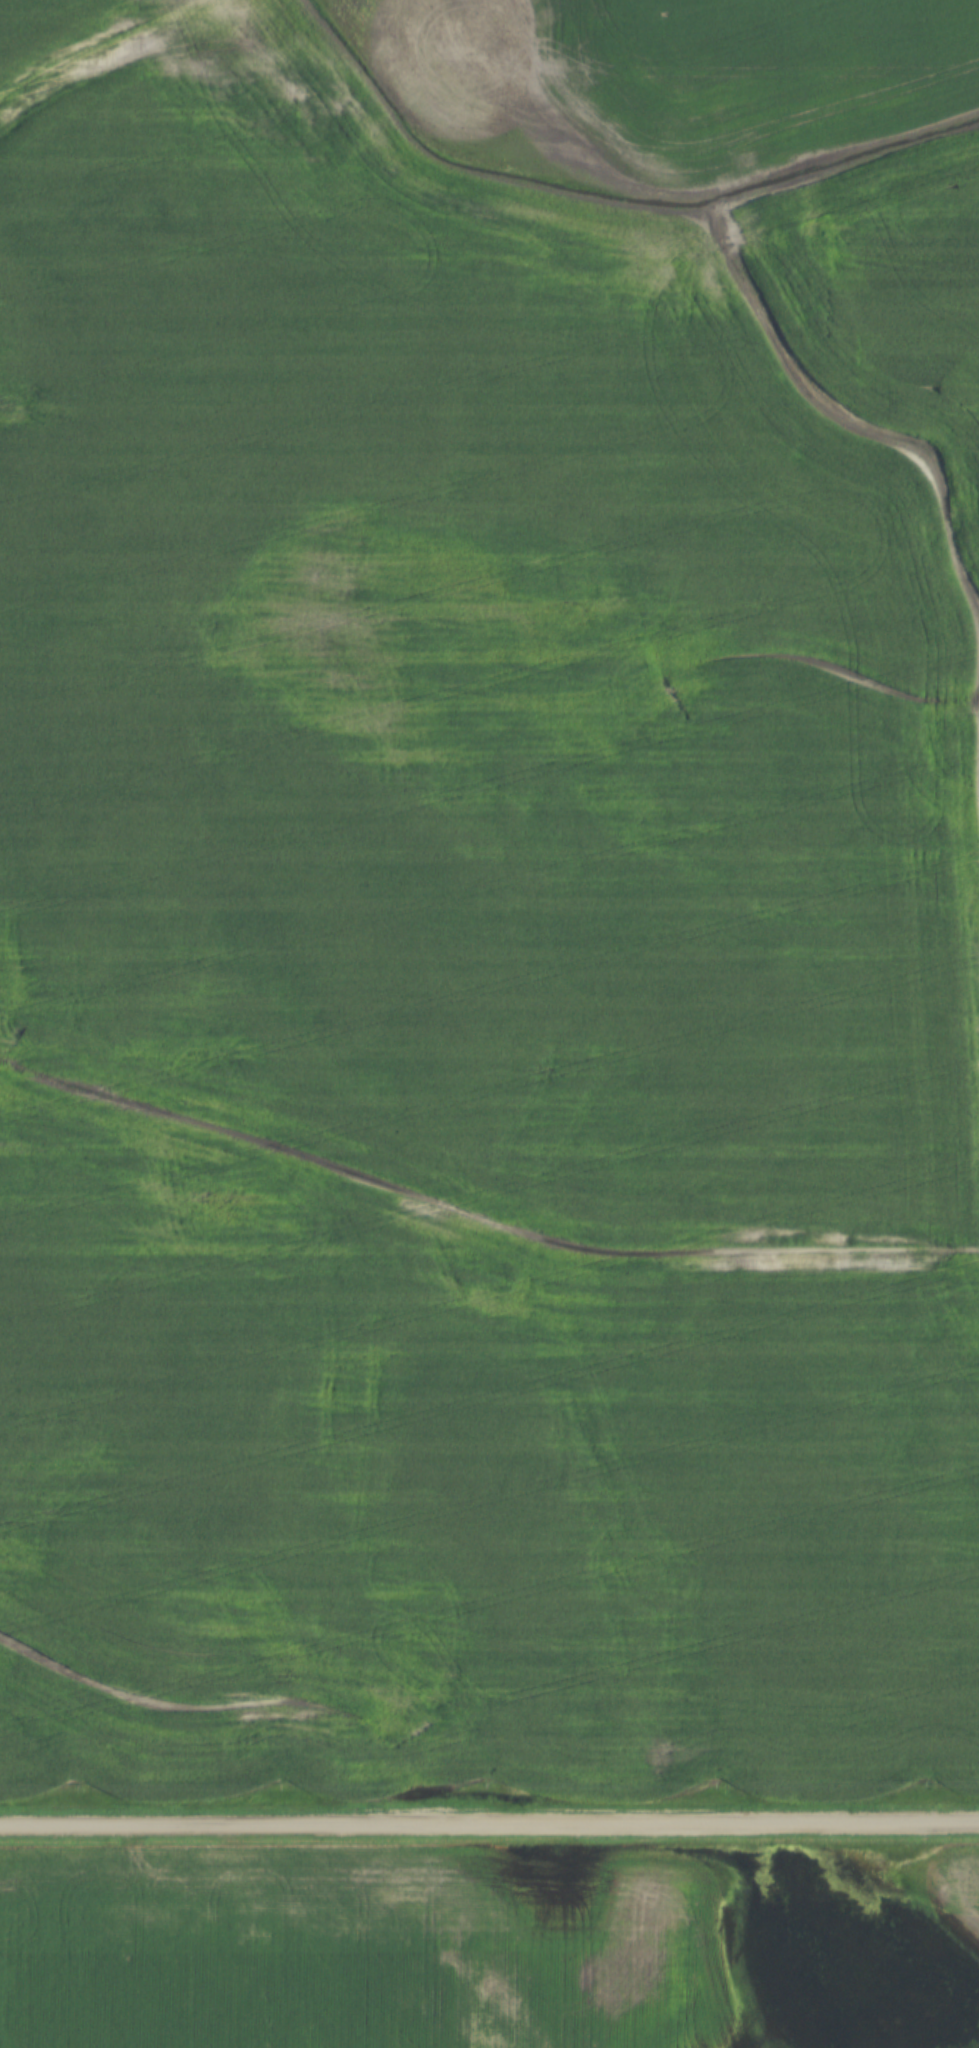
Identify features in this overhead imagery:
road: (489, 1826)

